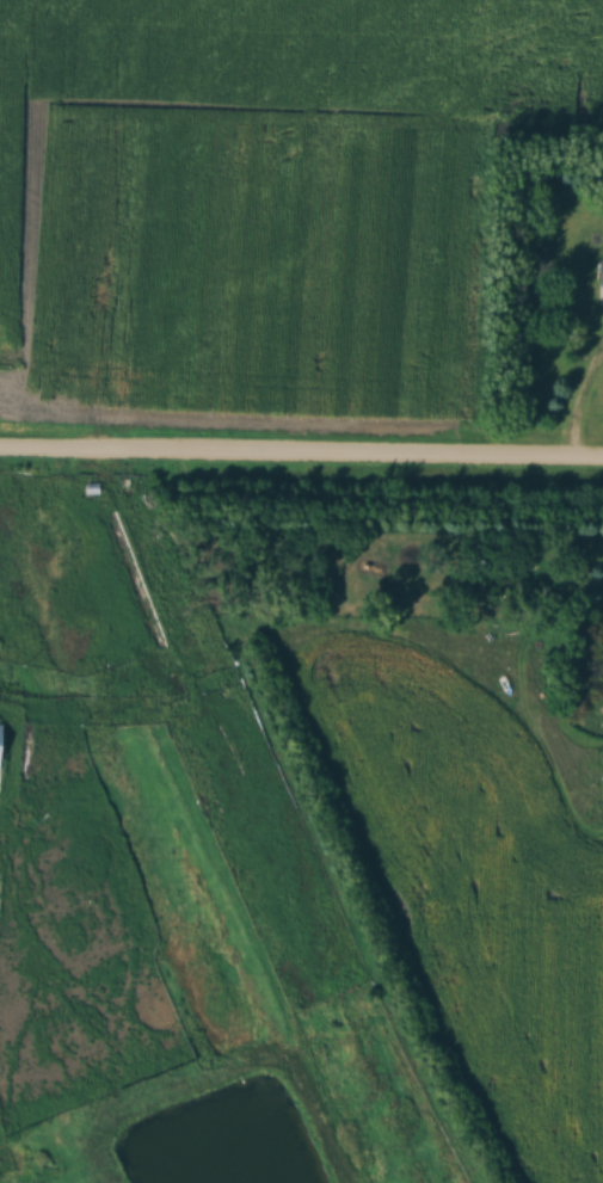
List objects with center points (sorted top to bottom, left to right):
road: (574, 402)
road: (301, 450)
building: (602, 622)
building: (1, 747)
building: (597, 775)

